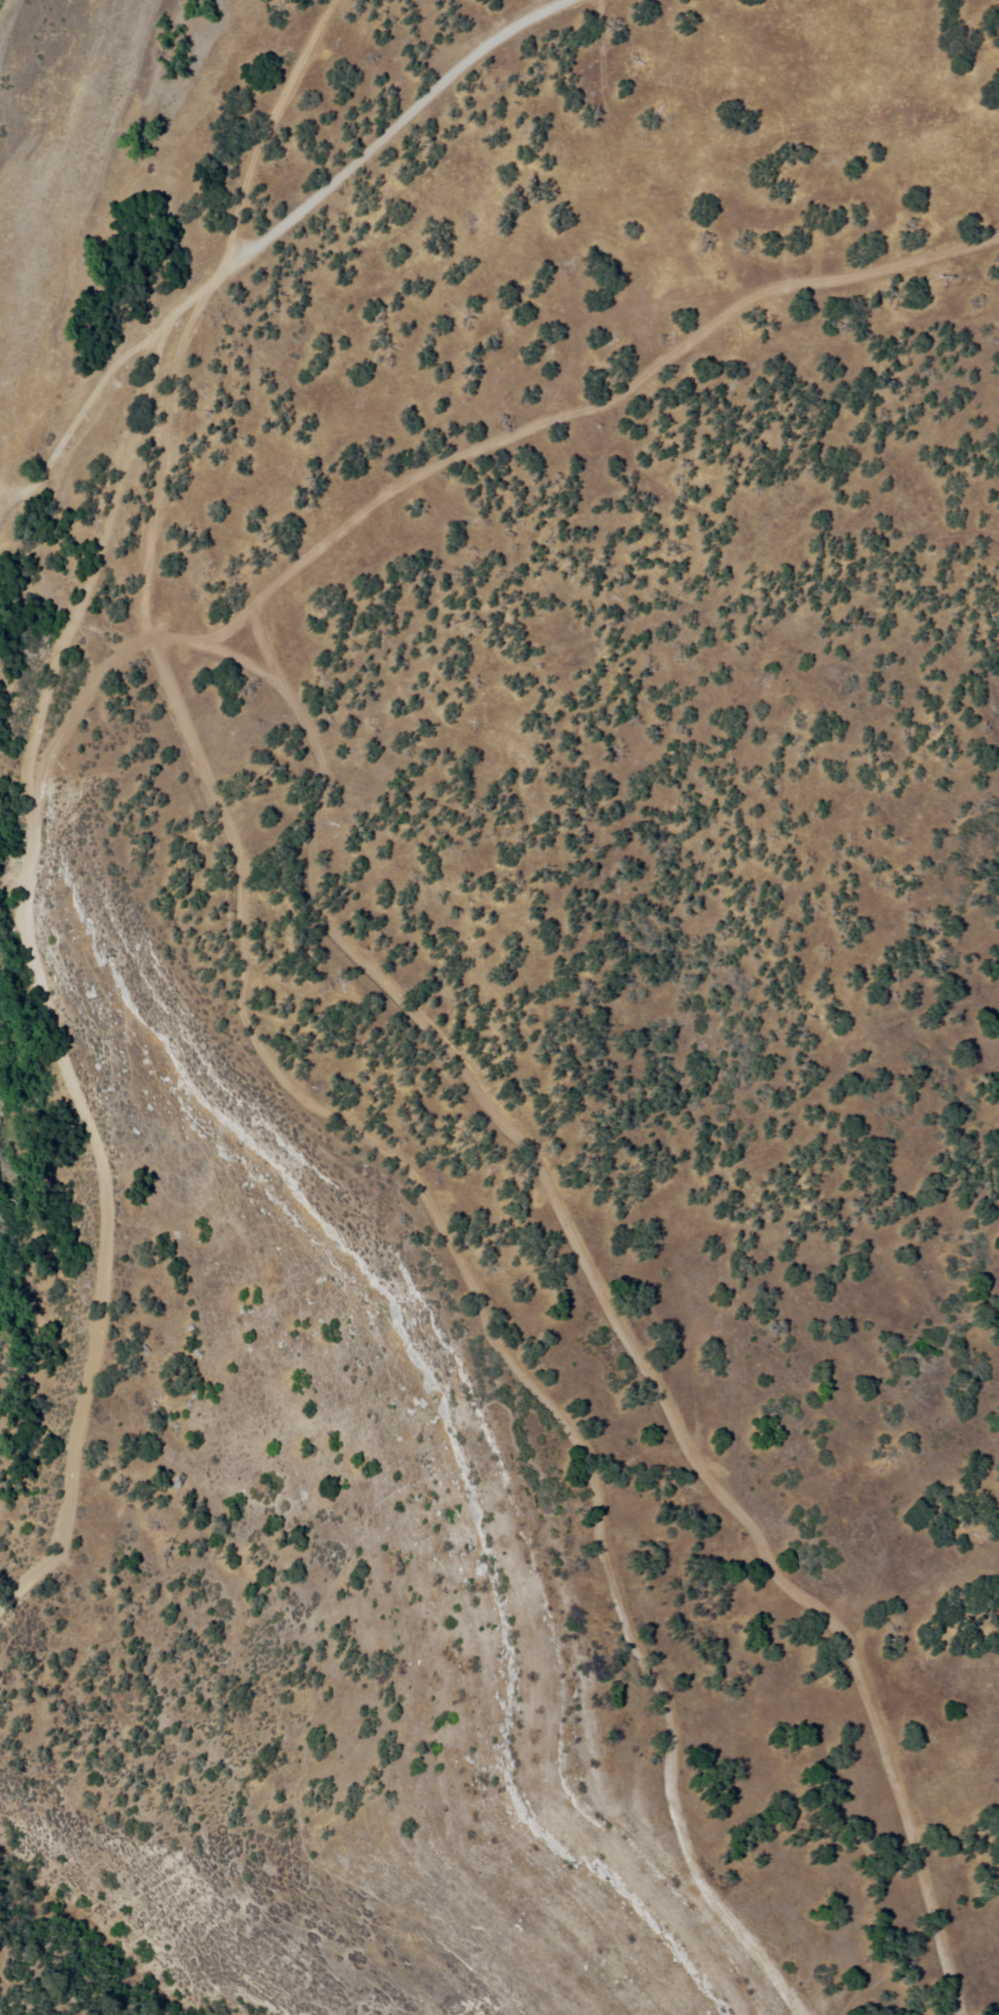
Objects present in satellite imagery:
road: (270, 130)
road: (242, 259)
road: (316, 845)

